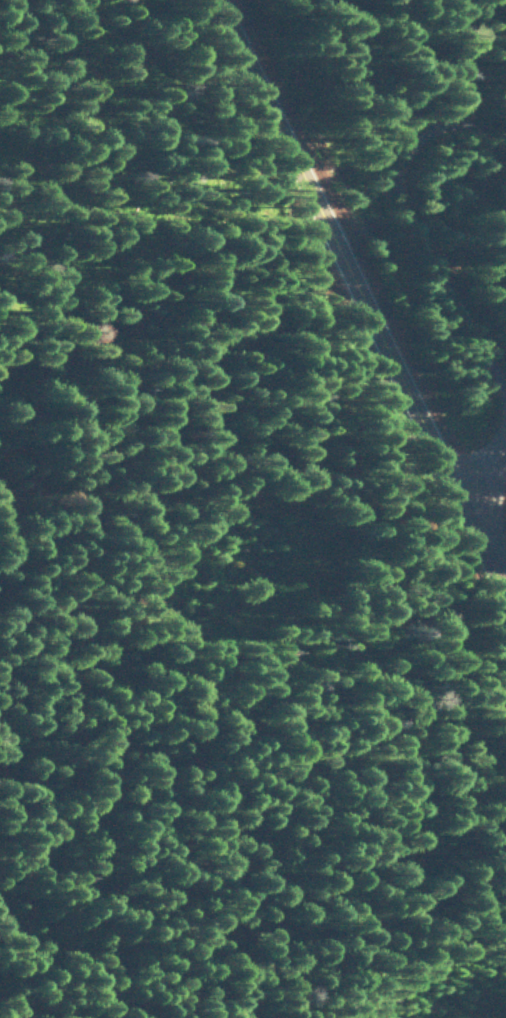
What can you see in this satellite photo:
road: (453, 61)
road: (413, 251)
road: (358, 307)

